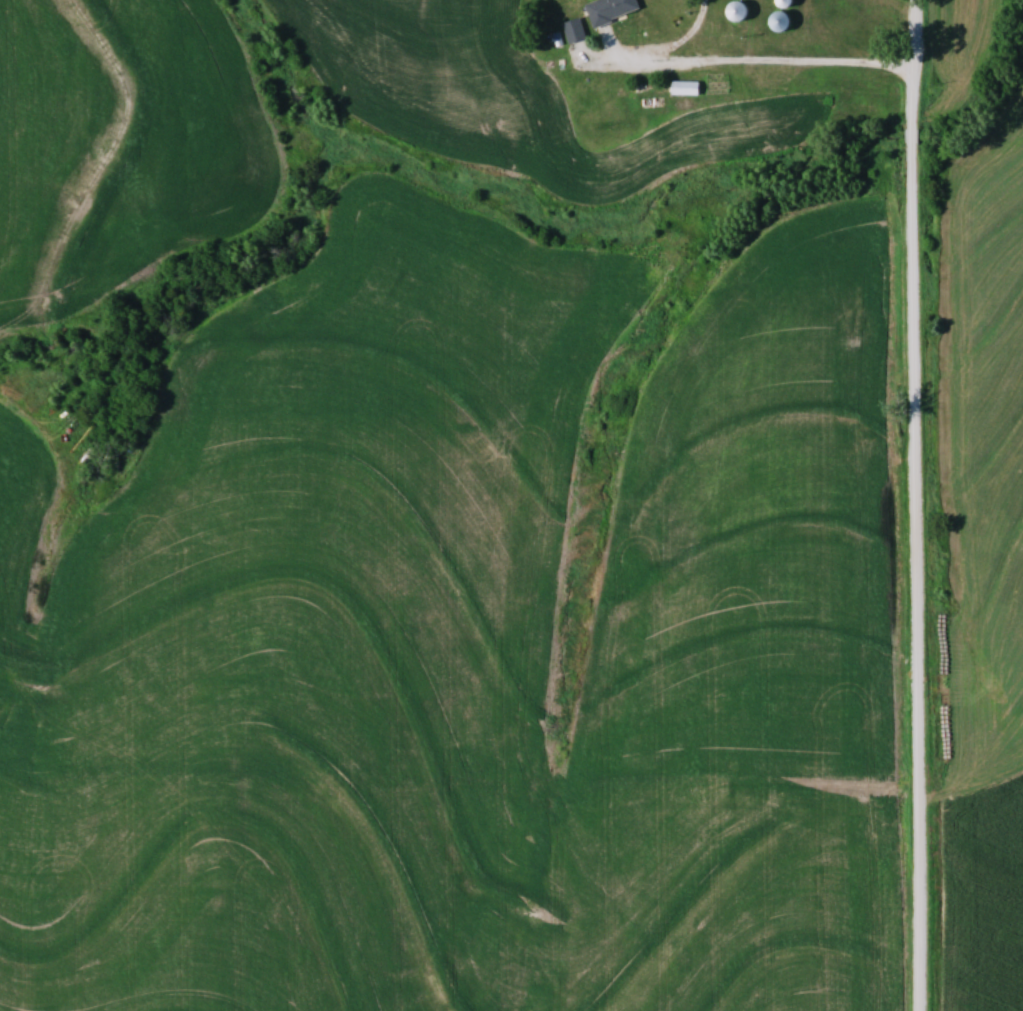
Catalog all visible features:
building: (612, 10)
building: (741, 12)
building: (576, 30)
road: (673, 51)
road: (786, 61)
building: (688, 87)
road: (919, 505)

